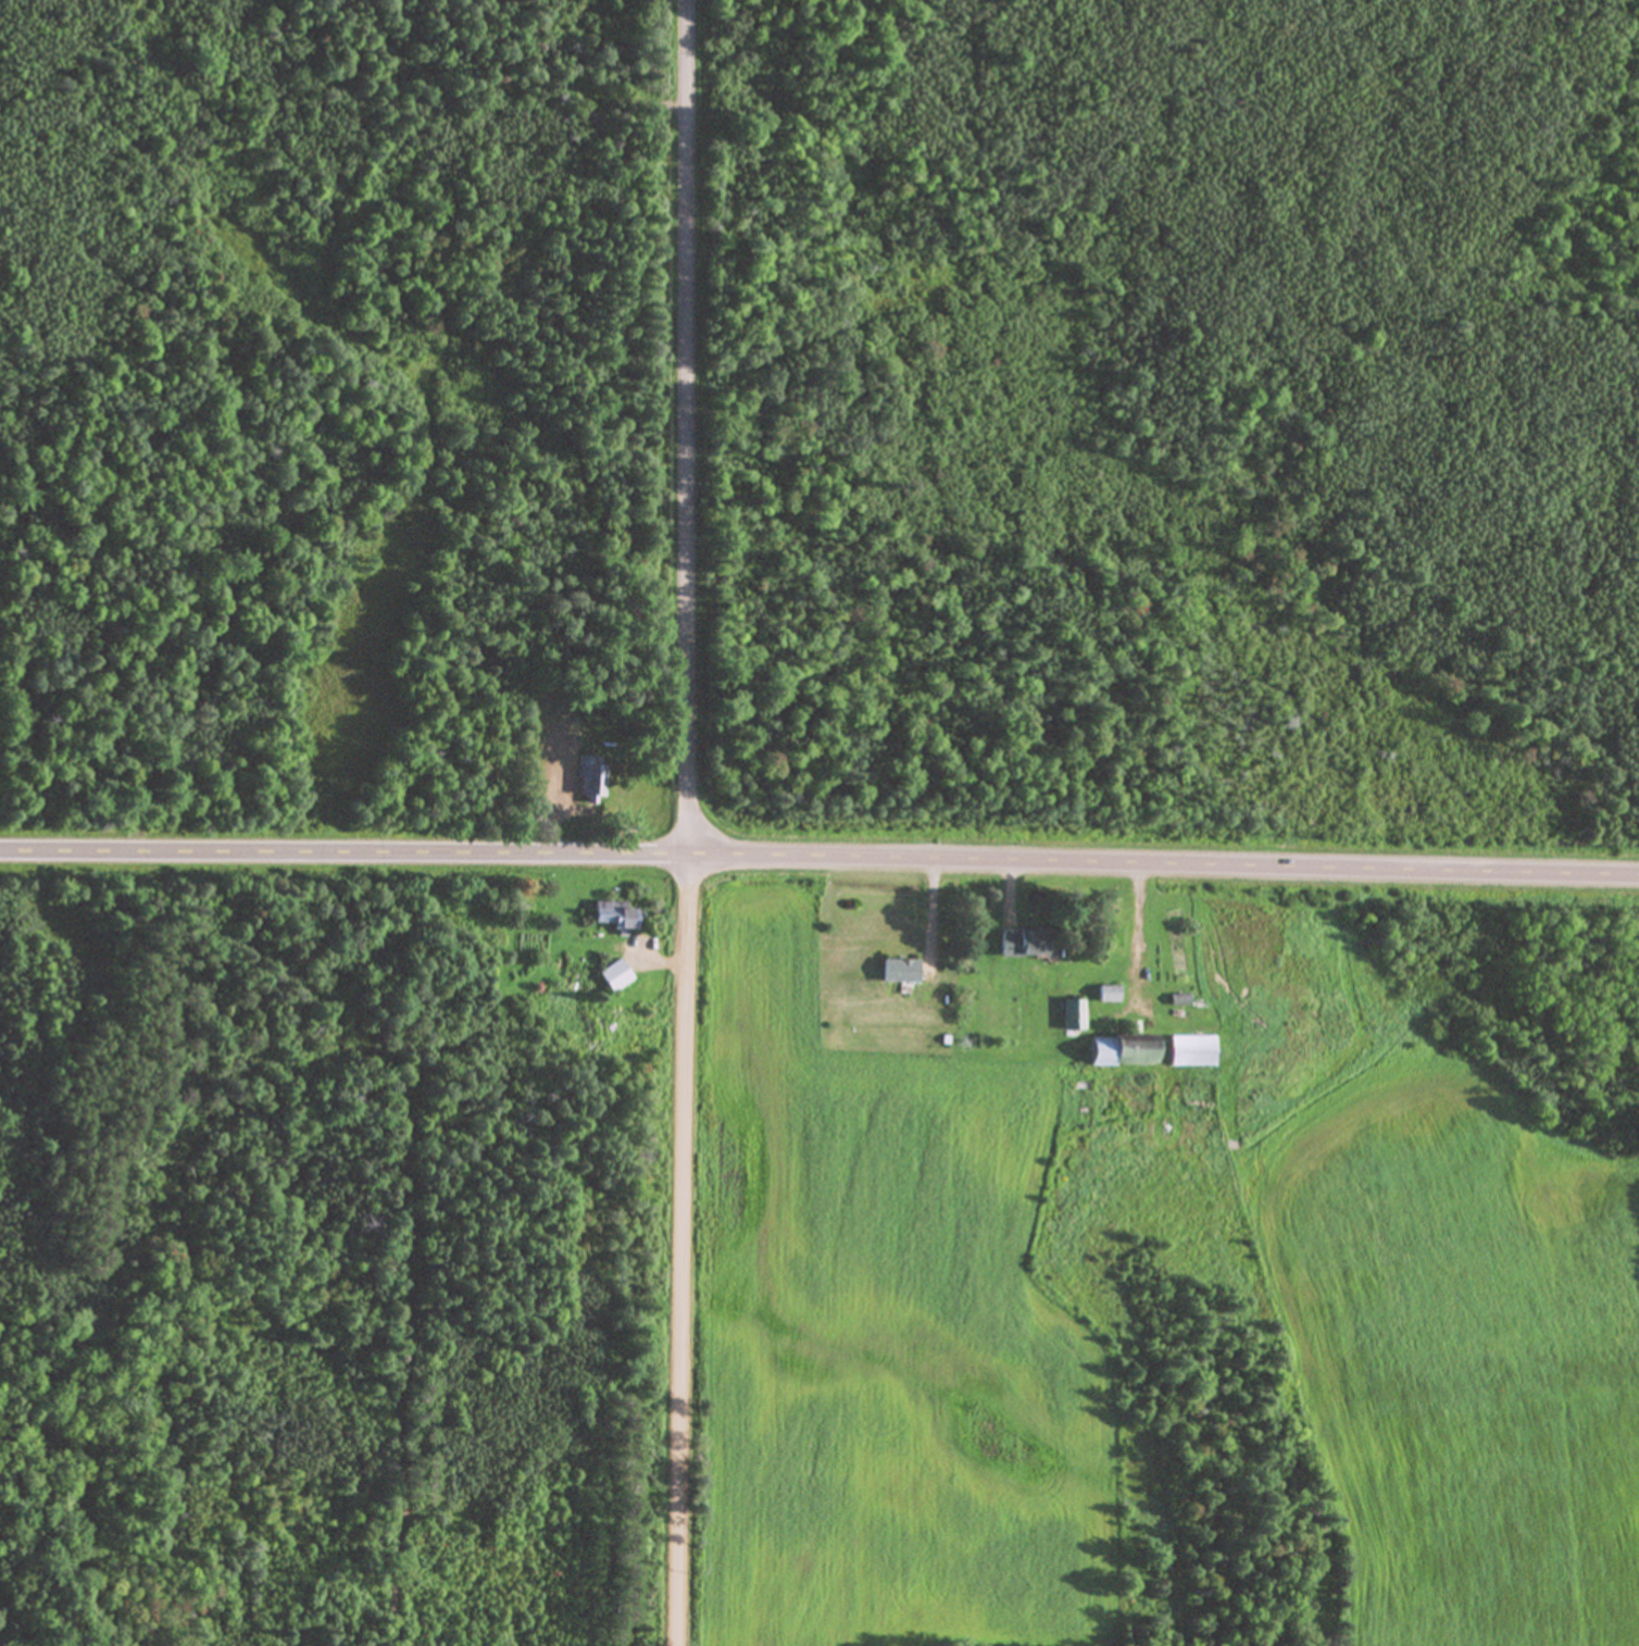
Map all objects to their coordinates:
building: (587, 780)
road: (684, 823)
road: (342, 859)
road: (1161, 864)
road: (1005, 885)
road: (929, 905)
building: (611, 915)
road: (1134, 921)
building: (1021, 942)
road: (662, 962)
building: (896, 970)
building: (613, 975)
building: (1105, 994)
building: (1071, 1014)
building: (1118, 1050)
building: (1188, 1050)

